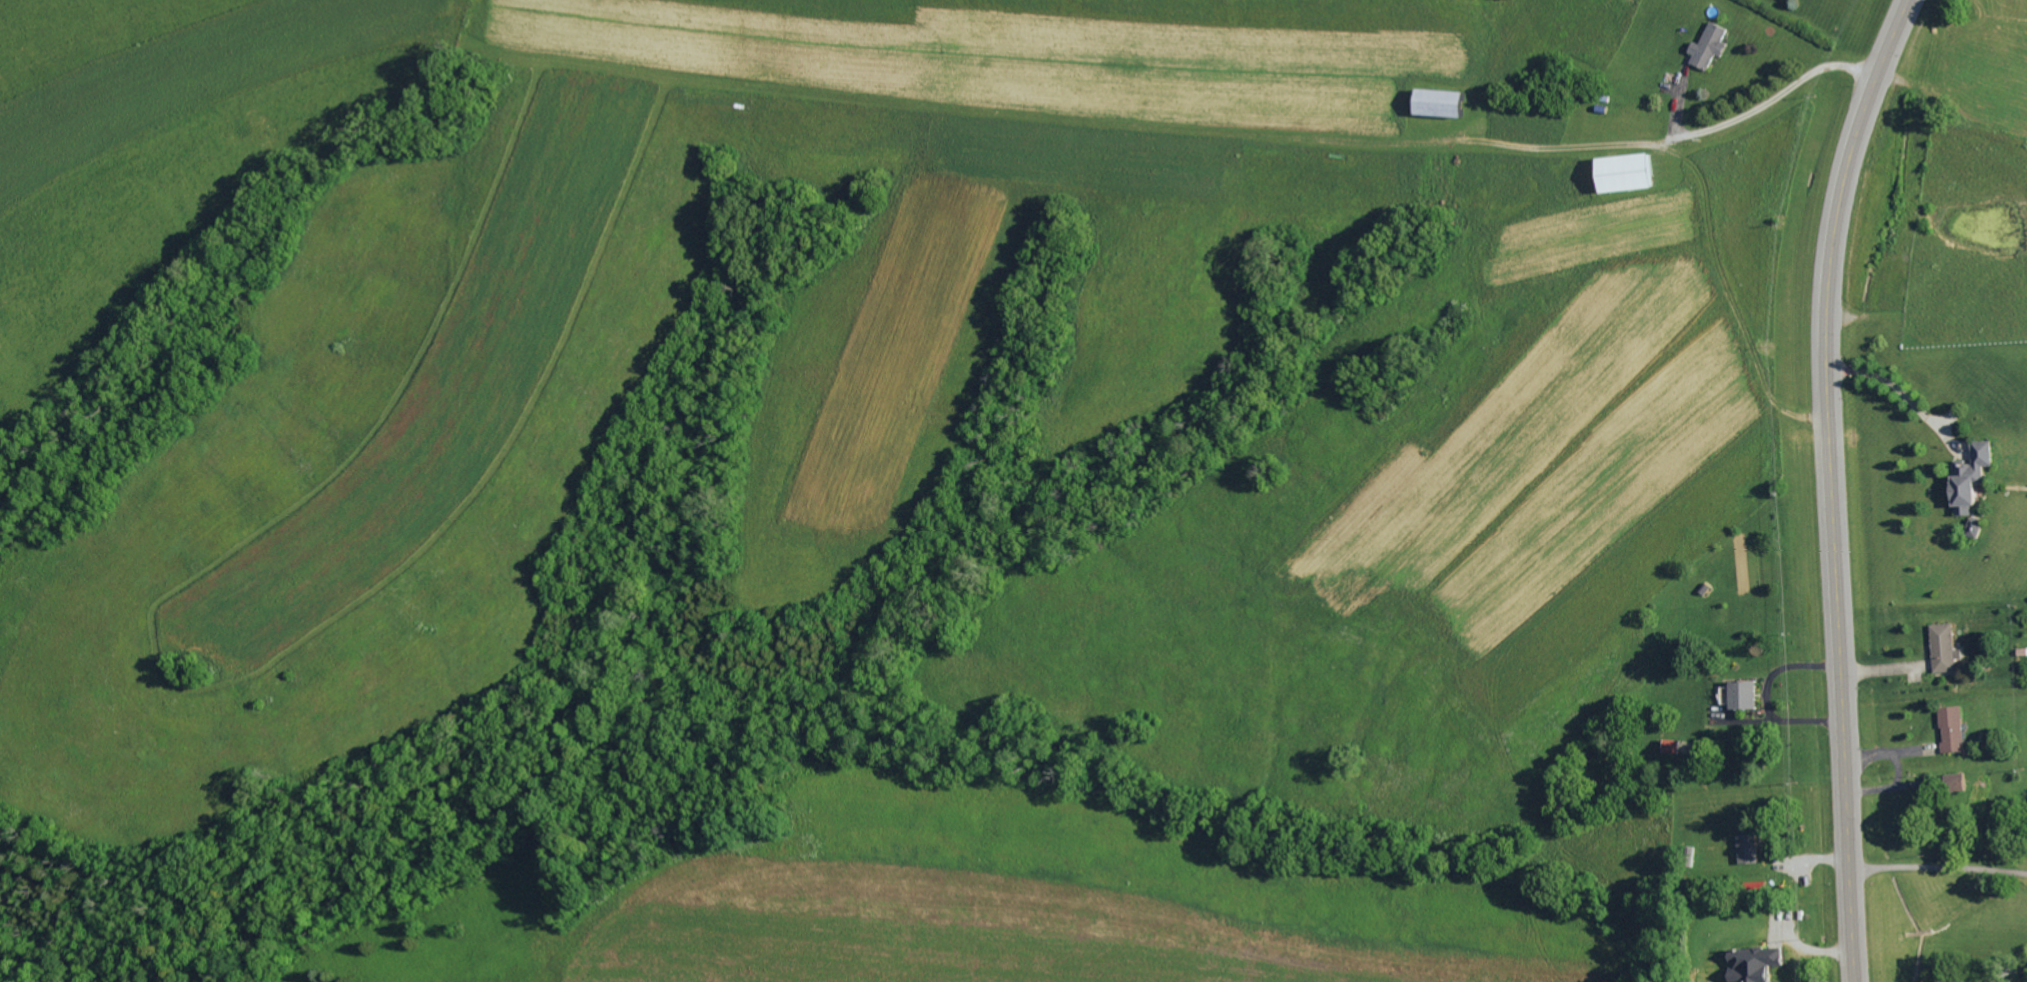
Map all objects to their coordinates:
building: (1713, 44)
road: (1778, 96)
building: (1637, 171)
building: (1957, 476)
building: (1978, 476)
road: (1830, 484)
building: (1947, 647)
building: (1747, 694)
building: (1956, 729)
building: (1673, 746)
building: (1750, 848)
building: (1760, 964)

